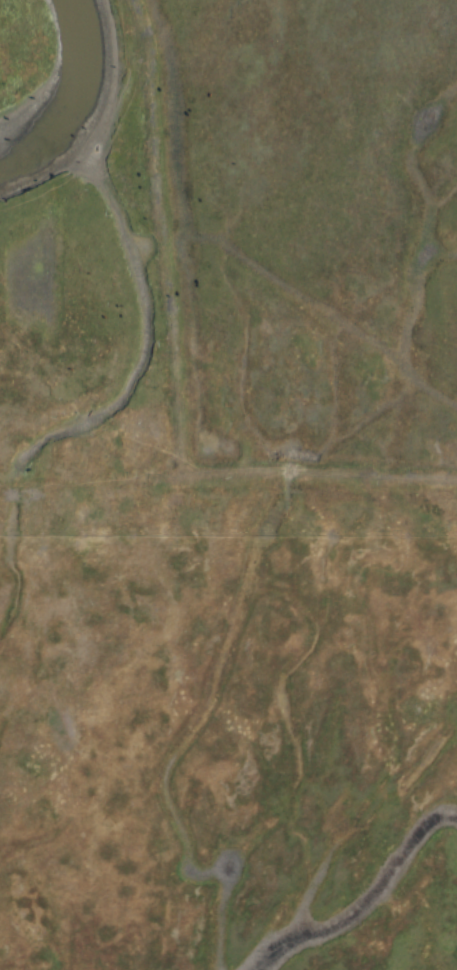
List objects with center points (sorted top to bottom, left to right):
river: (76, 97)
crop: (228, 753)

